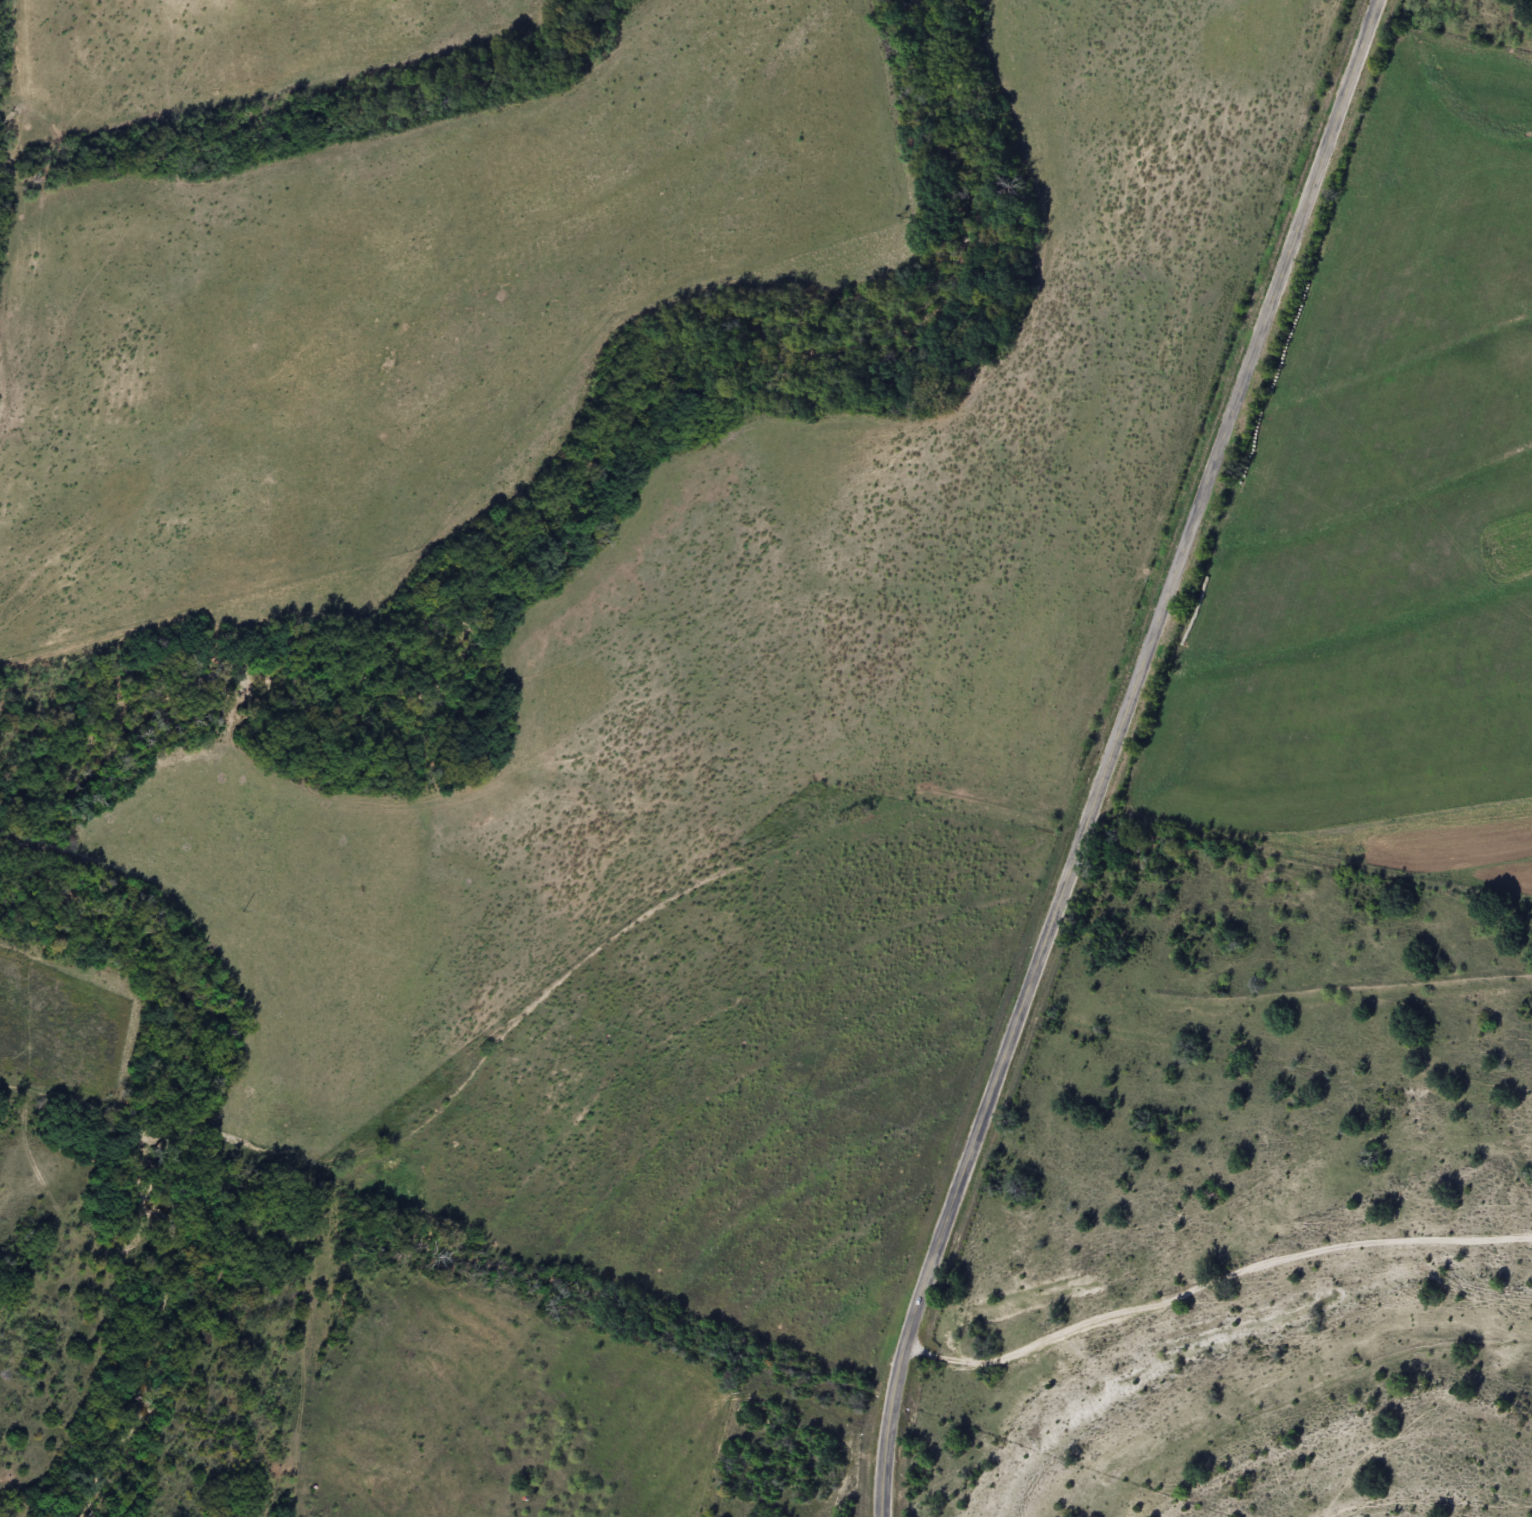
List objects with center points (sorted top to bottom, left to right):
road: (1111, 753)
road: (1215, 1261)

